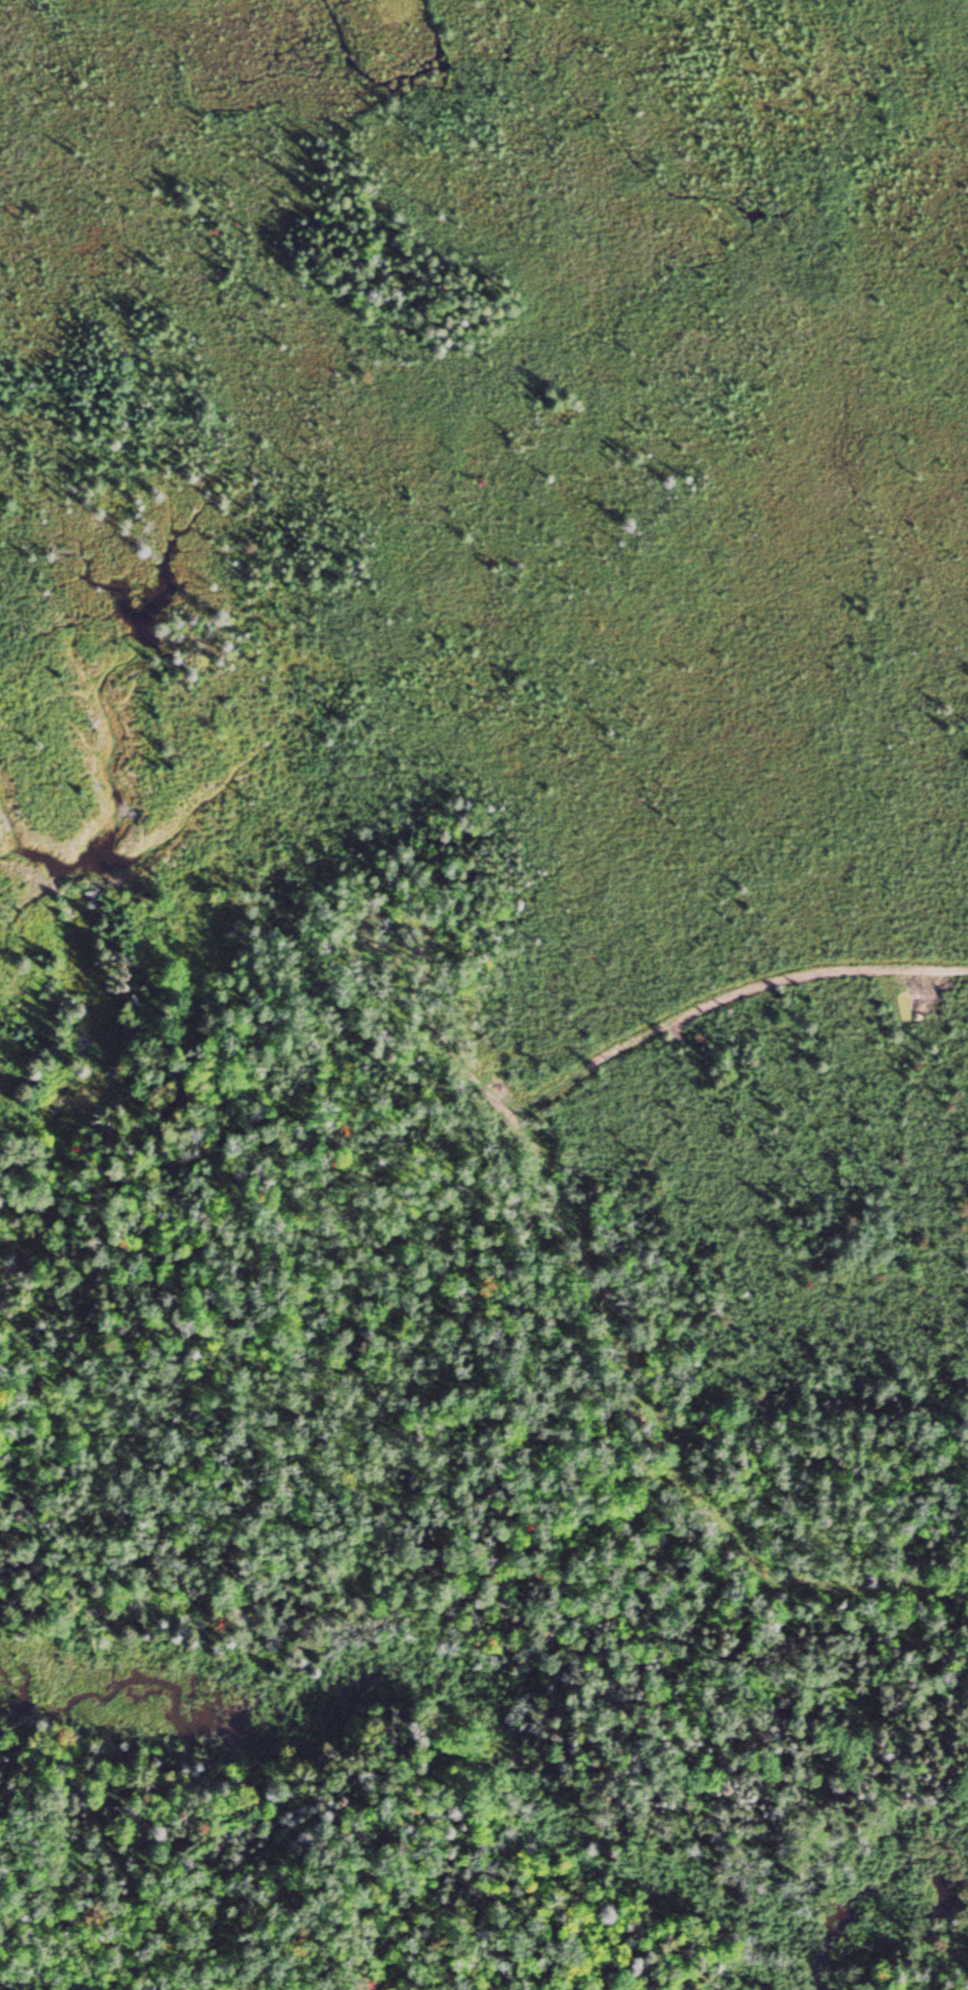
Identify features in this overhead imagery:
river: (936, 1886)
river: (812, 1963)

